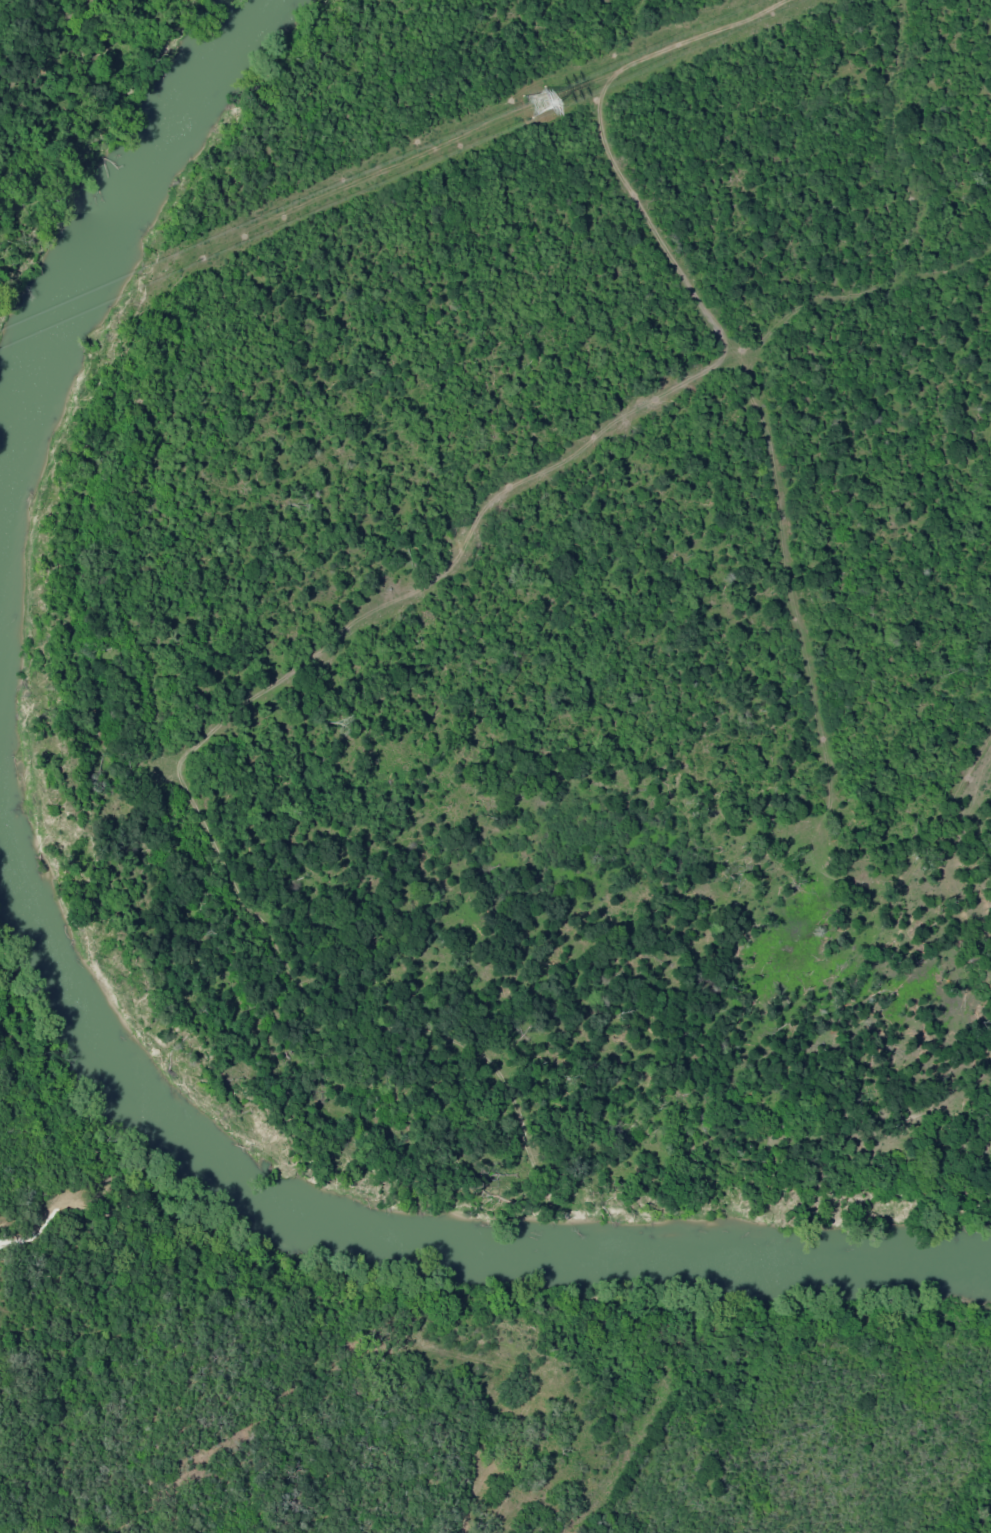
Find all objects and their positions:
power tower: (537, 102)
river: (115, 199)
road: (173, 449)
river: (424, 1232)

